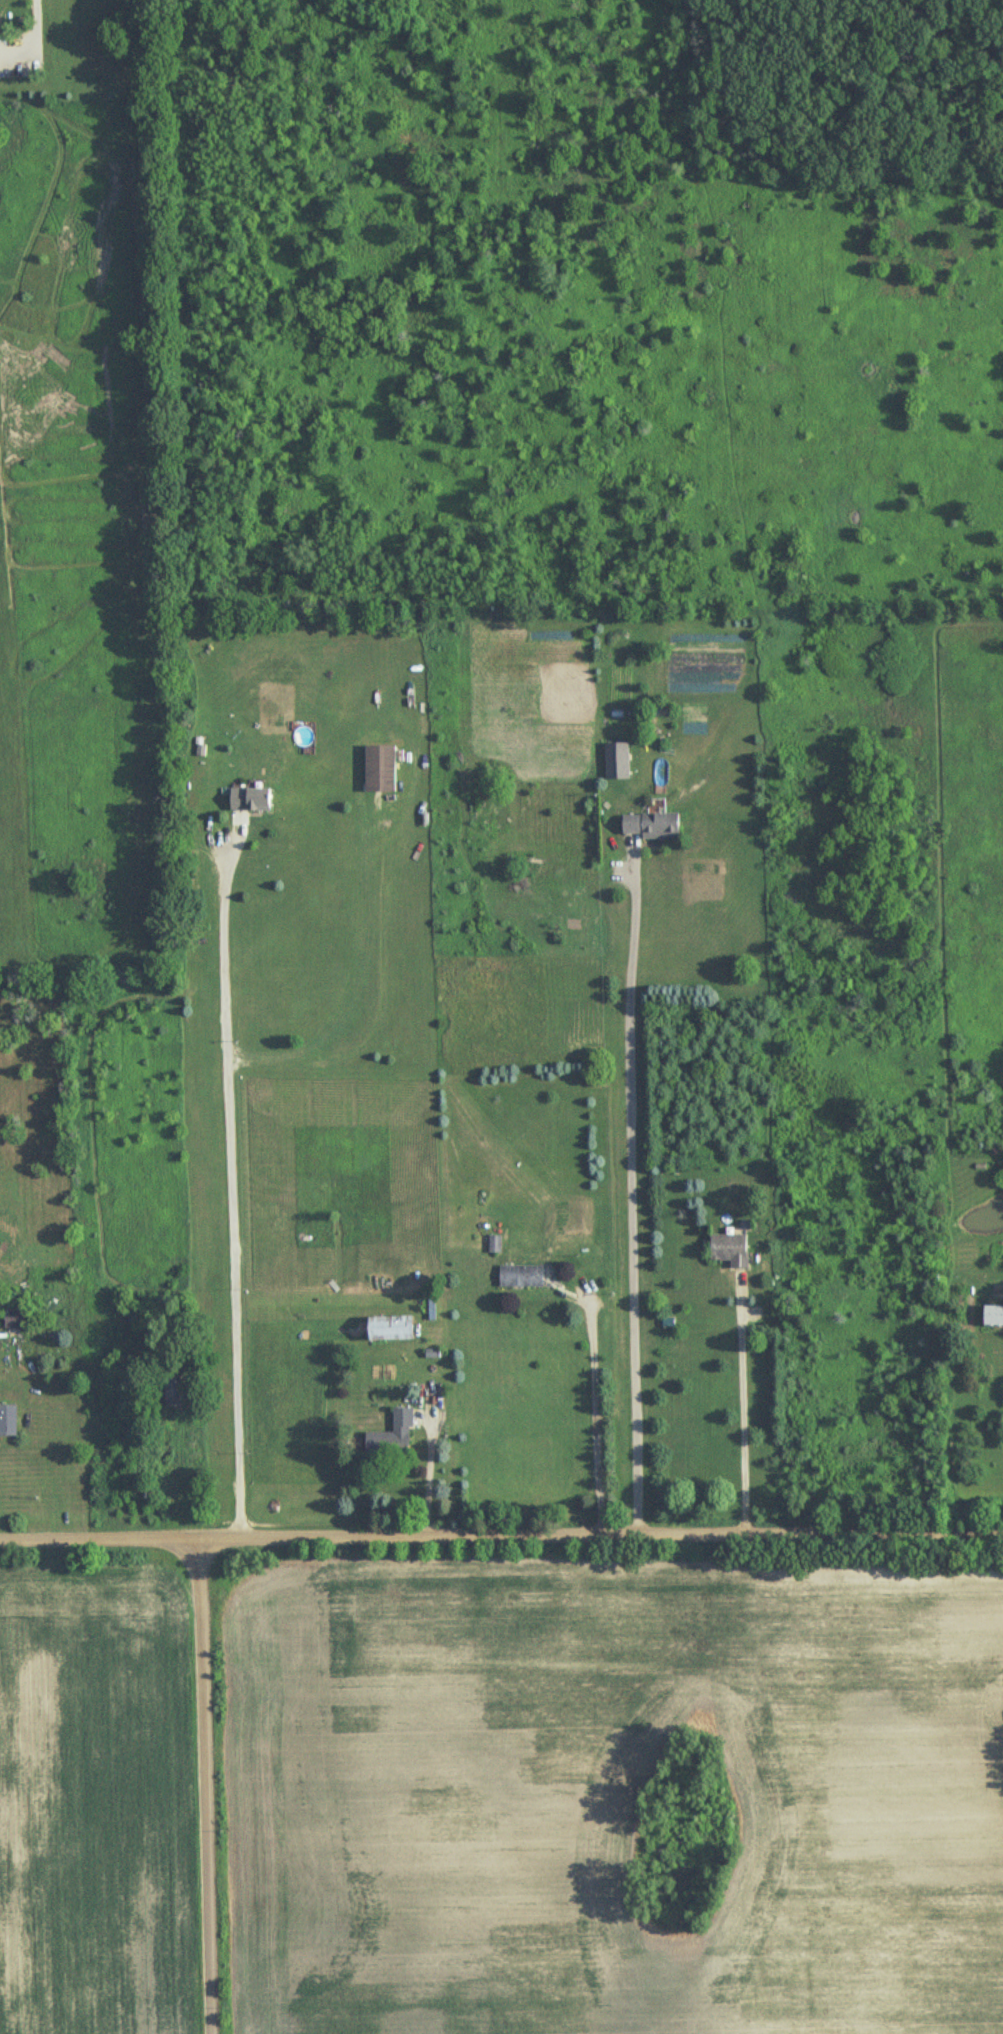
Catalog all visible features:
building: (615, 763)
building: (379, 770)
building: (249, 800)
building: (649, 827)
road: (384, 999)
road: (233, 1188)
road: (632, 1201)
building: (728, 1249)
building: (520, 1277)
building: (991, 1316)
building: (14, 1319)
building: (386, 1329)
building: (173, 1390)
road: (743, 1408)
road: (598, 1417)
building: (7, 1421)
building: (391, 1437)
road: (430, 1478)
road: (42, 1484)
road: (501, 1536)
road: (207, 1786)

